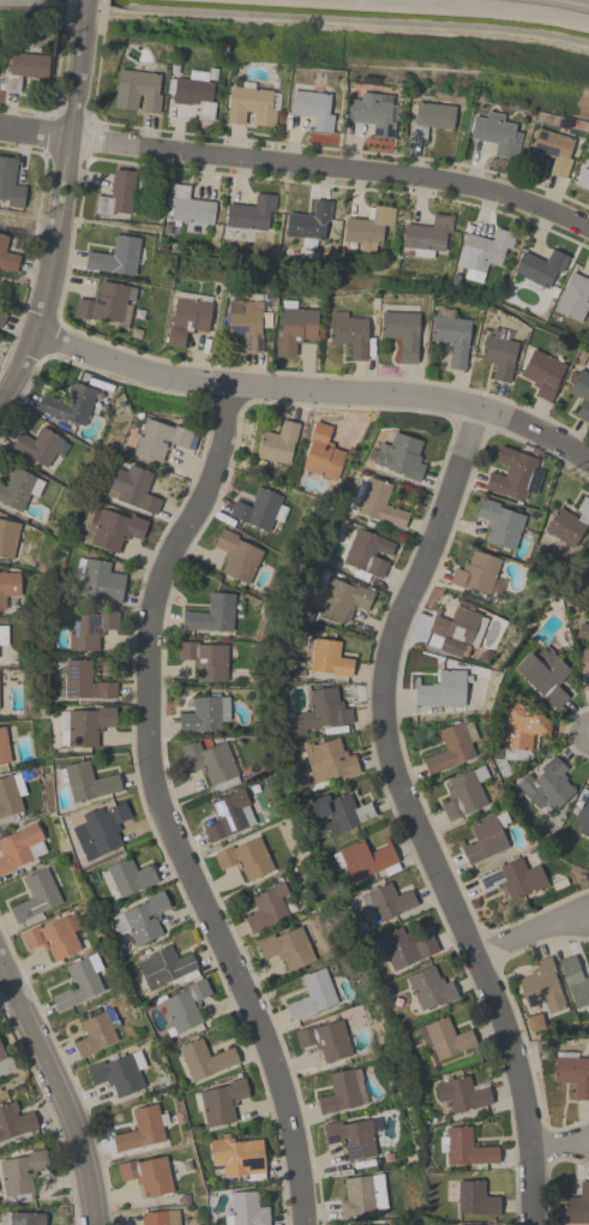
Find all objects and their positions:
road: (570, 2)
road: (85, 11)
building: (24, 68)
building: (138, 90)
building: (194, 92)
building: (252, 104)
building: (312, 104)
building: (373, 114)
building: (429, 119)
building: (497, 135)
road: (74, 147)
building: (553, 150)
road: (297, 167)
building: (583, 179)
building: (10, 183)
building: (118, 193)
building: (191, 208)
building: (251, 214)
building: (309, 223)
building: (368, 228)
building: (428, 235)
building: (483, 253)
building: (7, 256)
building: (116, 257)
building: (540, 268)
building: (573, 298)
building: (106, 304)
building: (188, 316)
building: (2, 318)
building: (248, 322)
building: (295, 328)
building: (402, 333)
building: (349, 334)
building: (451, 335)
road: (32, 341)
building: (499, 353)
building: (542, 374)
building: (581, 393)
road: (314, 394)
building: (70, 405)
building: (161, 438)
building: (278, 442)
building: (41, 446)
building: (323, 453)
building: (399, 456)
building: (513, 474)
building: (133, 488)
building: (17, 489)
building: (378, 502)
building: (260, 509)
building: (500, 524)
building: (569, 524)
building: (114, 528)
building: (8, 537)
building: (587, 548)
building: (367, 554)
building: (238, 556)
building: (479, 574)
building: (98, 580)
building: (8, 586)
building: (339, 600)
building: (212, 614)
building: (90, 629)
building: (458, 629)
building: (583, 631)
building: (4, 635)
building: (327, 657)
building: (206, 661)
building: (584, 667)
building: (545, 675)
building: (85, 682)
building: (446, 689)
building: (319, 712)
building: (205, 713)
building: (89, 725)
building: (517, 734)
building: (4, 747)
building: (452, 747)
building: (329, 761)
building: (214, 763)
building: (86, 782)
building: (545, 783)
building: (465, 793)
building: (11, 794)
road: (162, 811)
building: (341, 812)
building: (229, 815)
road: (413, 818)
building: (582, 818)
building: (103, 827)
building: (486, 837)
building: (20, 847)
building: (246, 859)
building: (366, 860)
building: (127, 876)
building: (513, 879)
building: (37, 896)
building: (386, 901)
building: (268, 908)
building: (142, 919)
building: (55, 937)
road: (533, 937)
building: (288, 948)
building: (404, 948)
building: (166, 967)
building: (575, 981)
building: (79, 982)
building: (542, 986)
building: (429, 988)
building: (313, 994)
building: (186, 1005)
building: (96, 1033)
building: (443, 1038)
building: (325, 1040)
building: (2, 1053)
building: (205, 1059)
building: (119, 1072)
building: (573, 1072)
building: (343, 1092)
building: (462, 1094)
road: (59, 1095)
building: (221, 1101)
building: (14, 1121)
building: (143, 1129)
building: (354, 1136)
building: (465, 1148)
road: (560, 1149)
building: (236, 1157)
building: (22, 1175)
building: (148, 1175)
building: (356, 1196)
building: (474, 1197)
building: (577, 1206)
building: (247, 1209)
building: (161, 1218)
building: (28, 1219)

